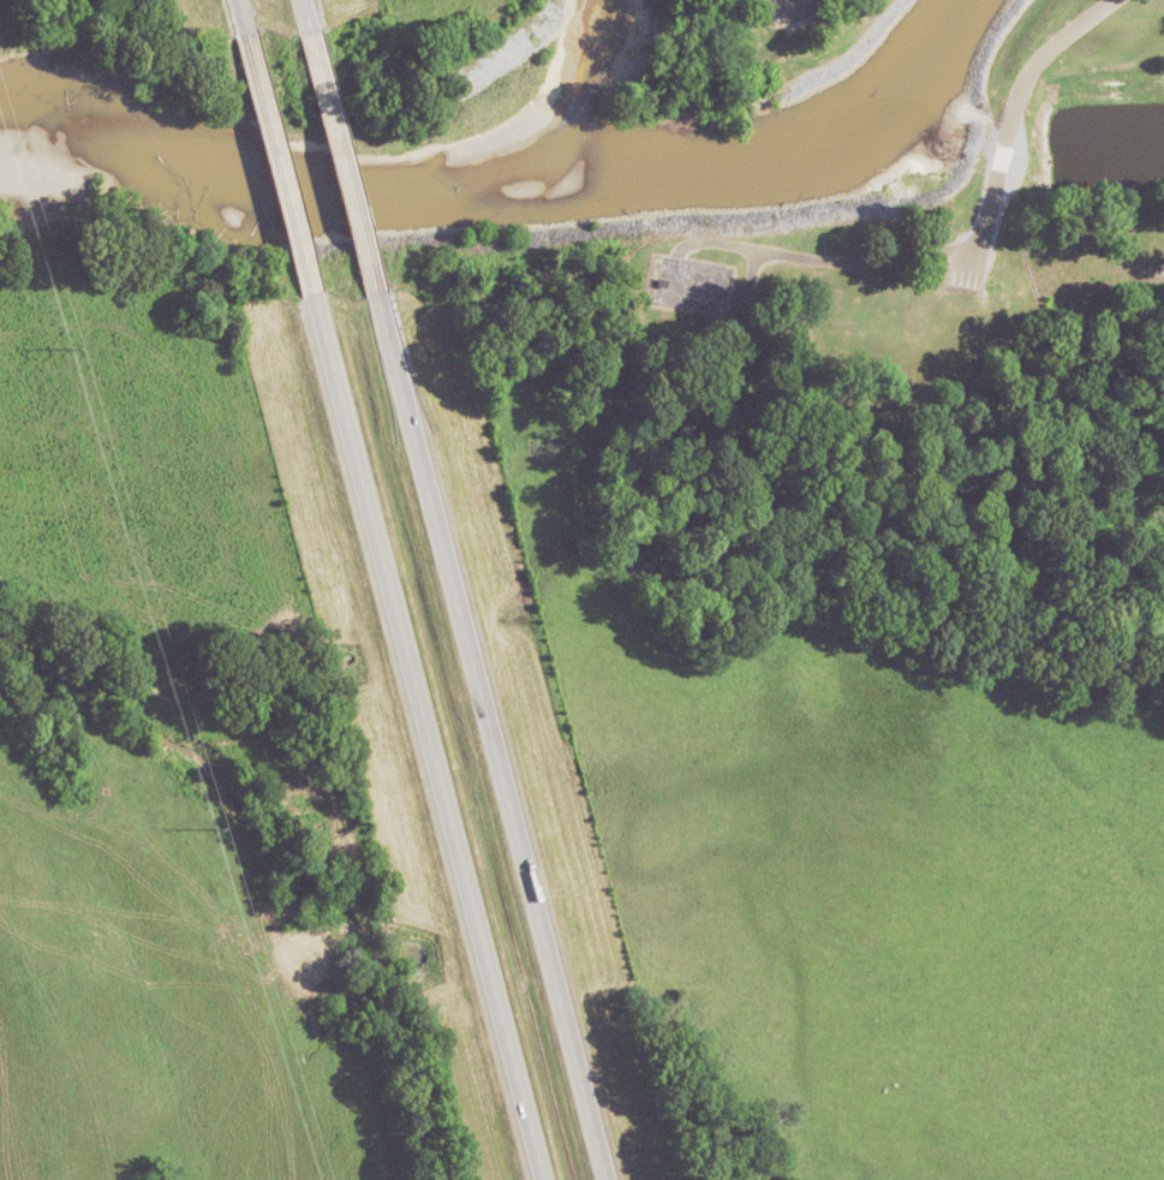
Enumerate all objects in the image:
road: (241, 16)
road: (305, 16)
road: (1017, 97)
road: (279, 162)
road: (342, 162)
river: (502, 173)
road: (828, 258)
road: (751, 272)
power tower: (72, 350)
road: (425, 735)
road: (489, 737)
power tower: (217, 824)

